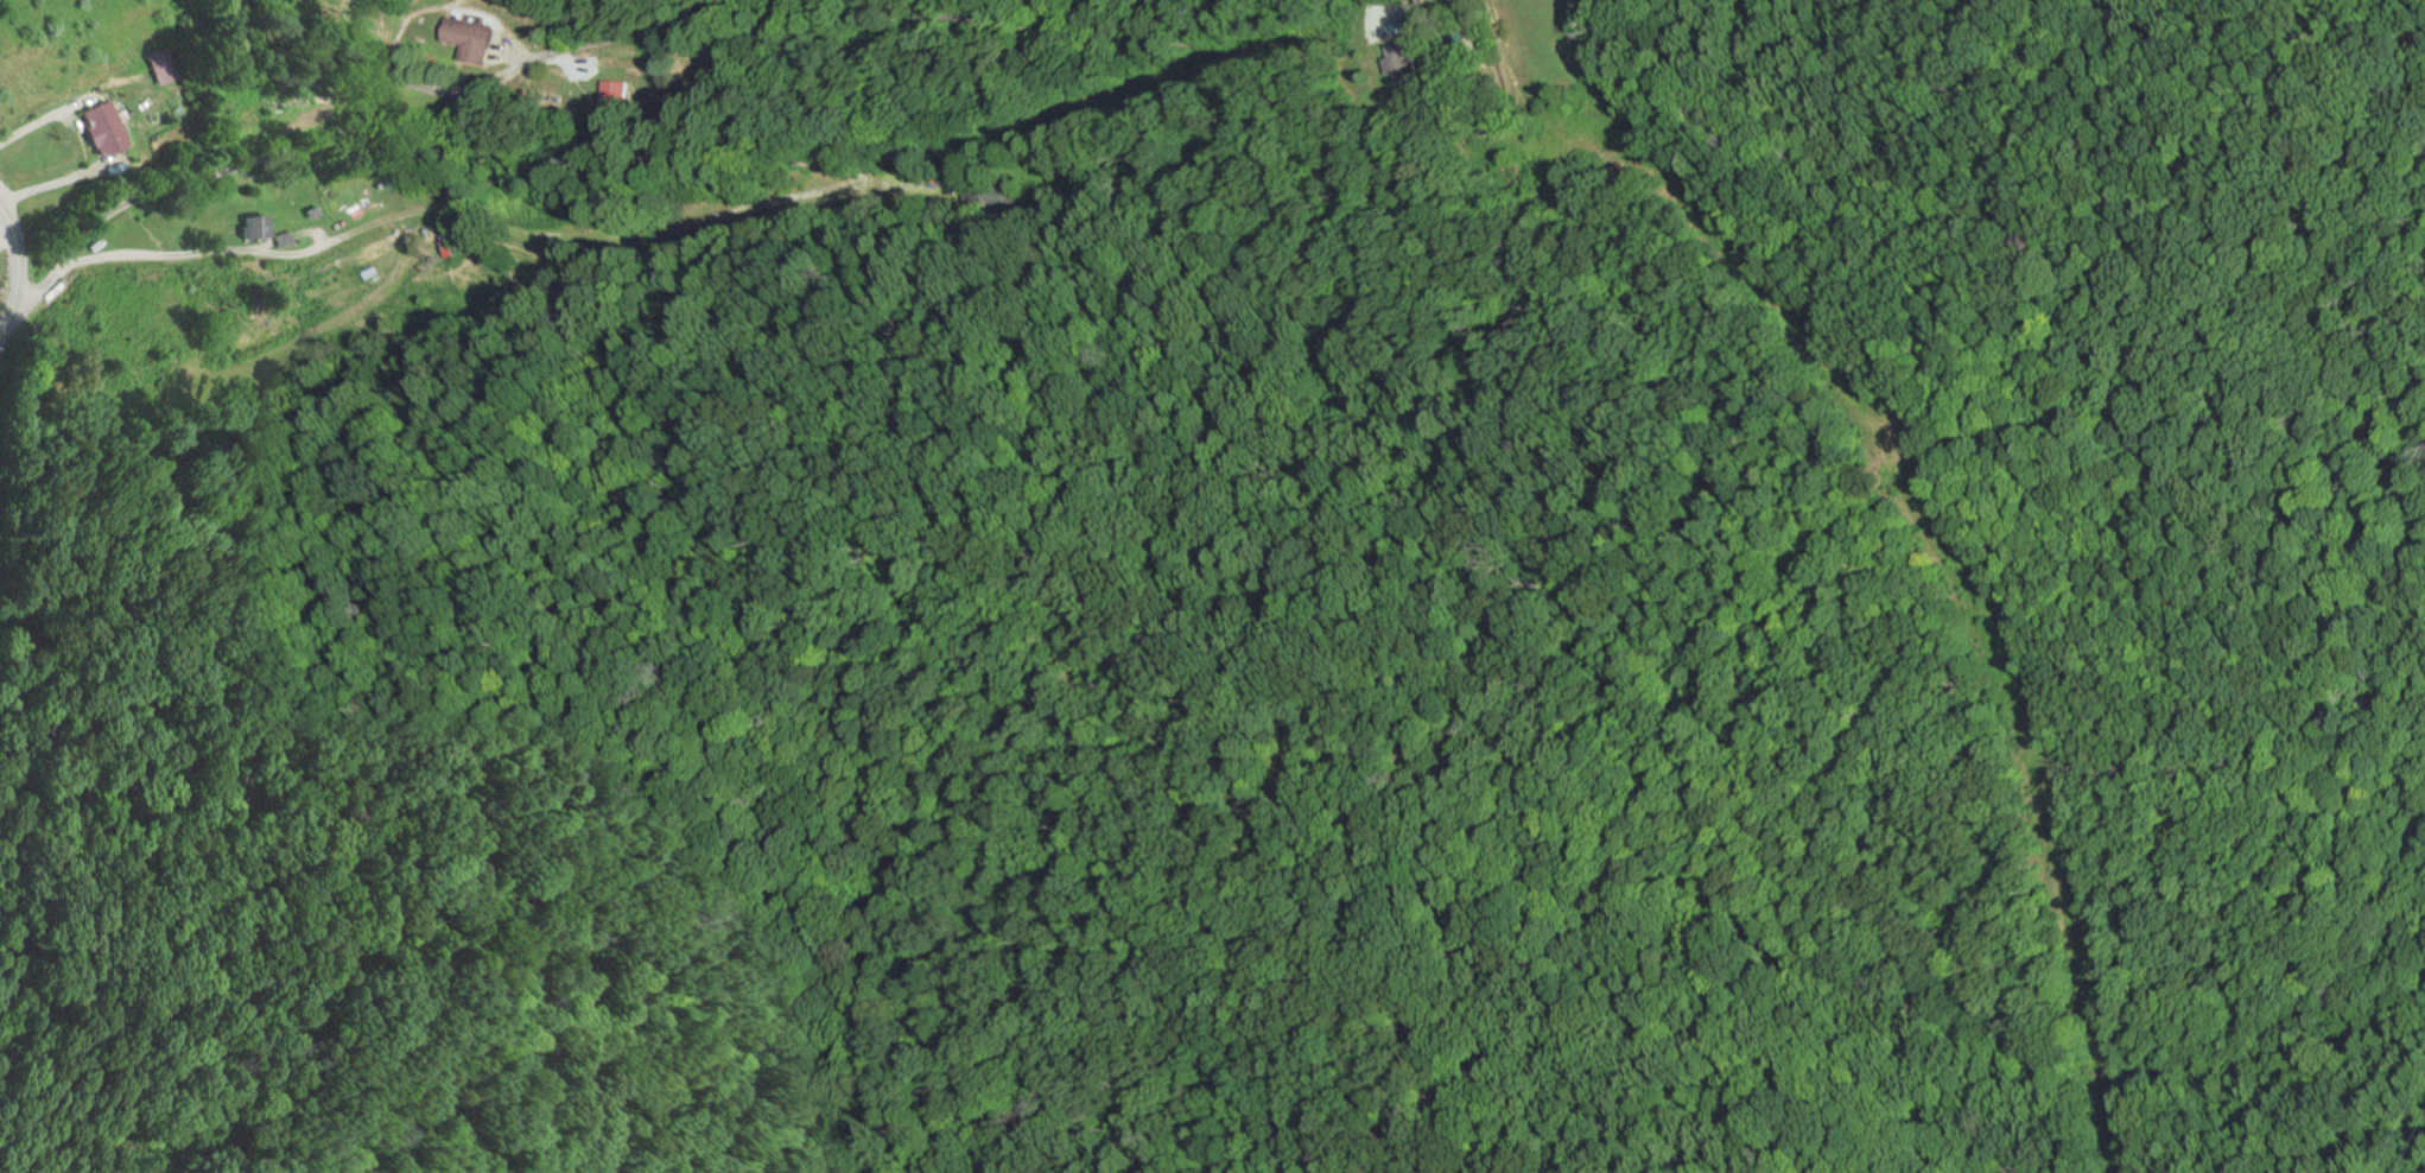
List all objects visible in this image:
road: (957, 14)
building: (1396, 25)
building: (475, 38)
building: (1403, 57)
building: (278, 96)
building: (617, 99)
road: (361, 103)
building: (106, 128)
building: (258, 227)
building: (452, 245)
road: (208, 260)
road: (13, 274)

